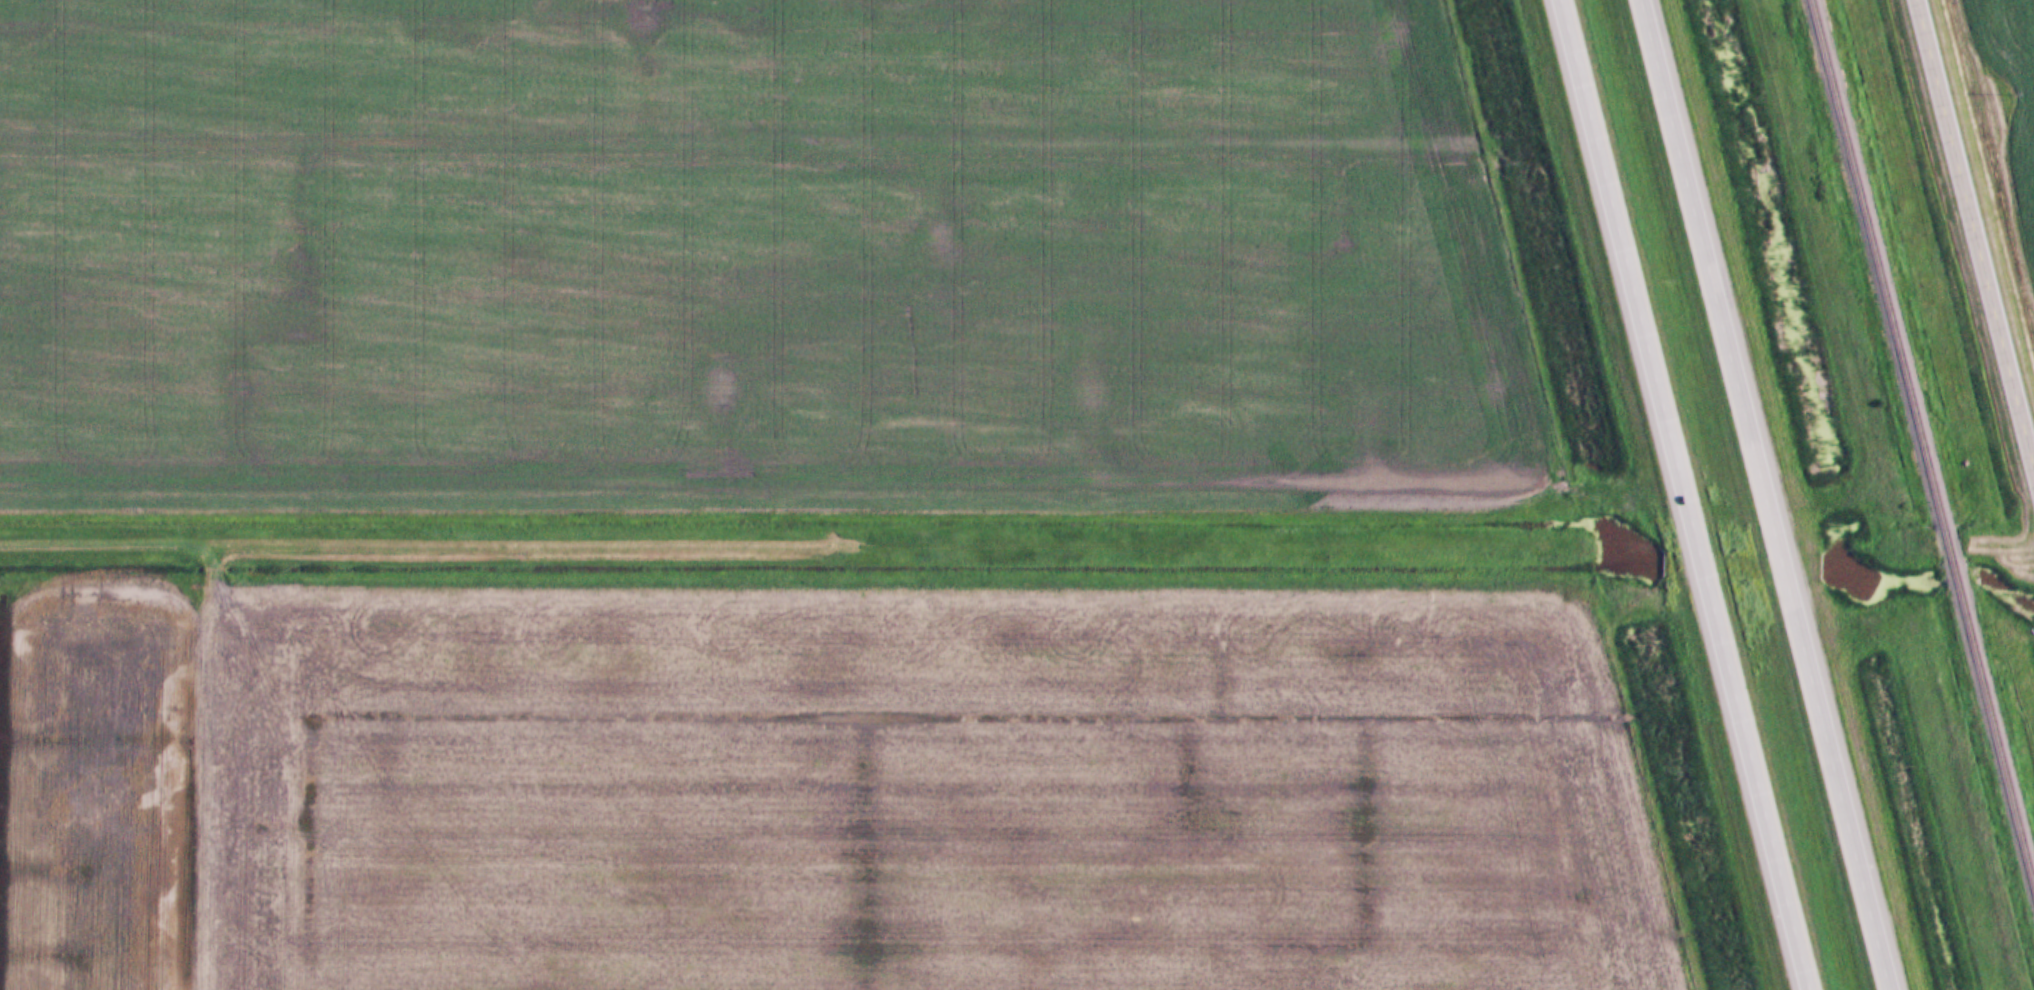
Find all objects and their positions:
road: (1973, 227)
railway: (1919, 459)
road: (1691, 494)
road: (1765, 495)

